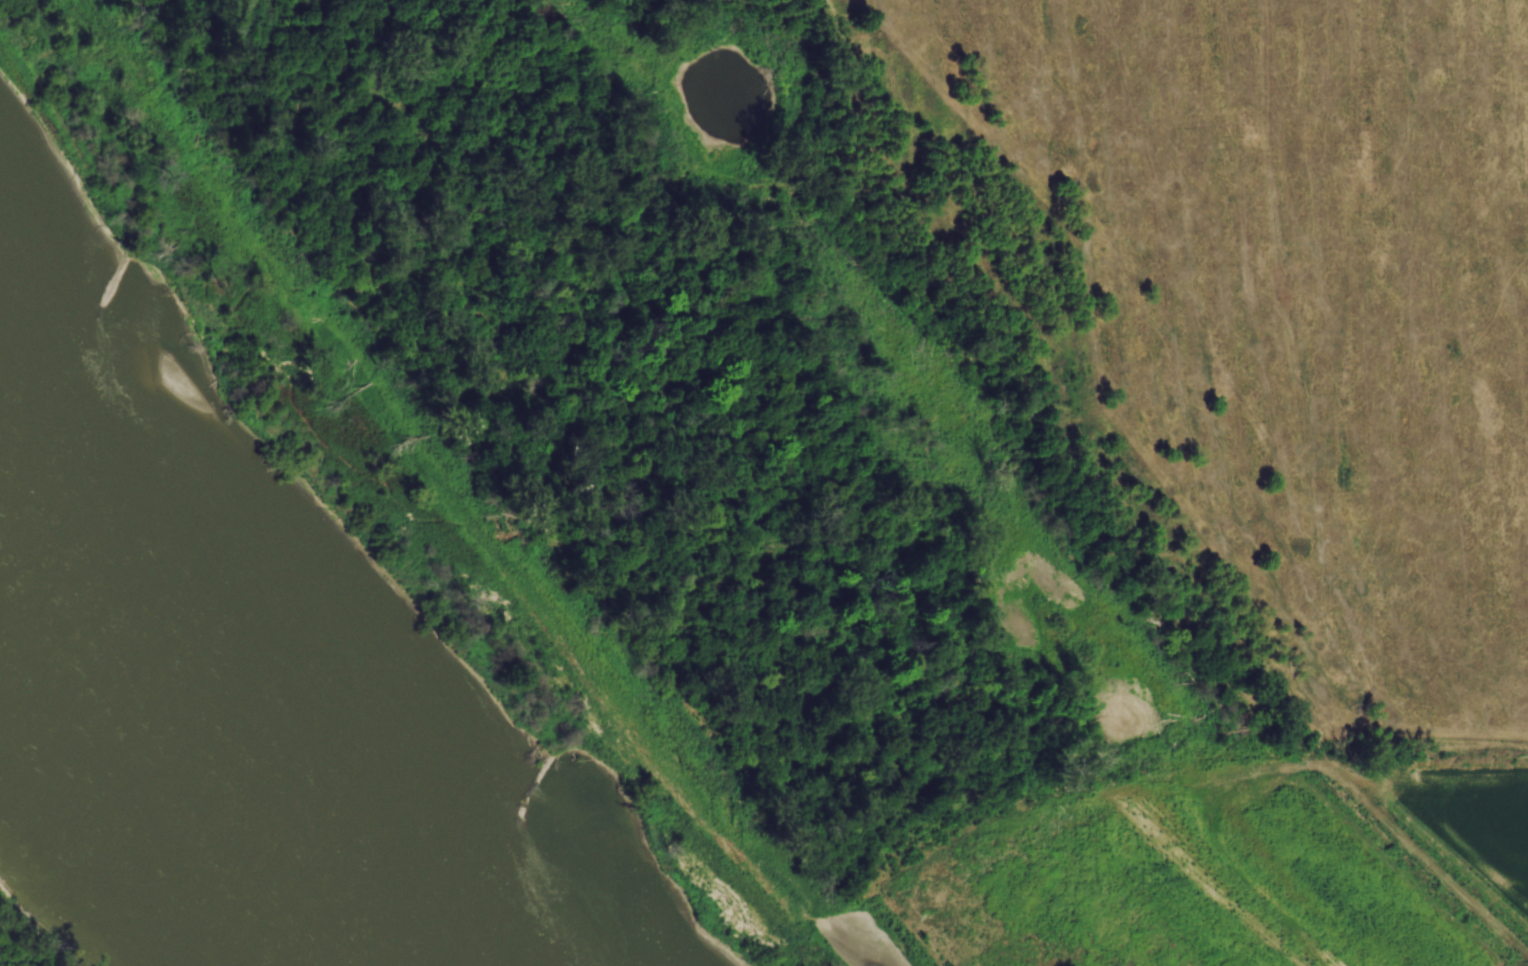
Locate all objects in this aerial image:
river: (203, 753)

